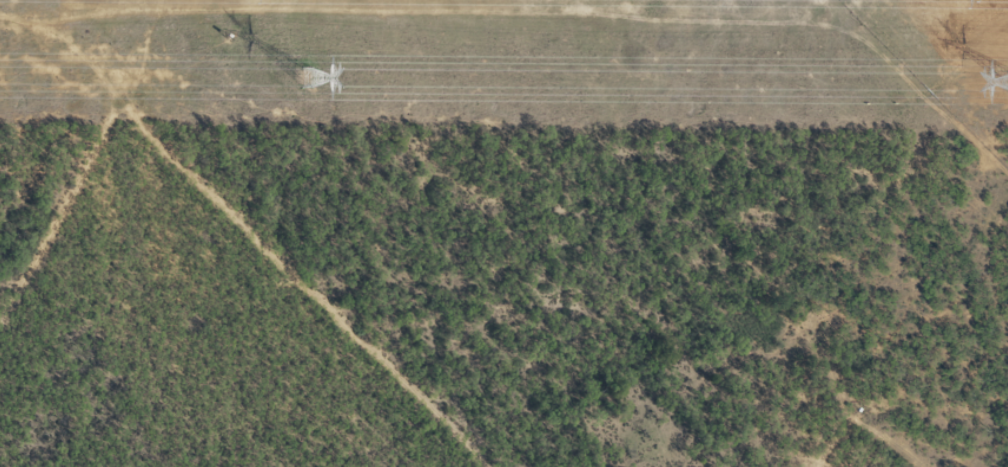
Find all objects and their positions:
power tower: (303, 74)
power tower: (1005, 80)

